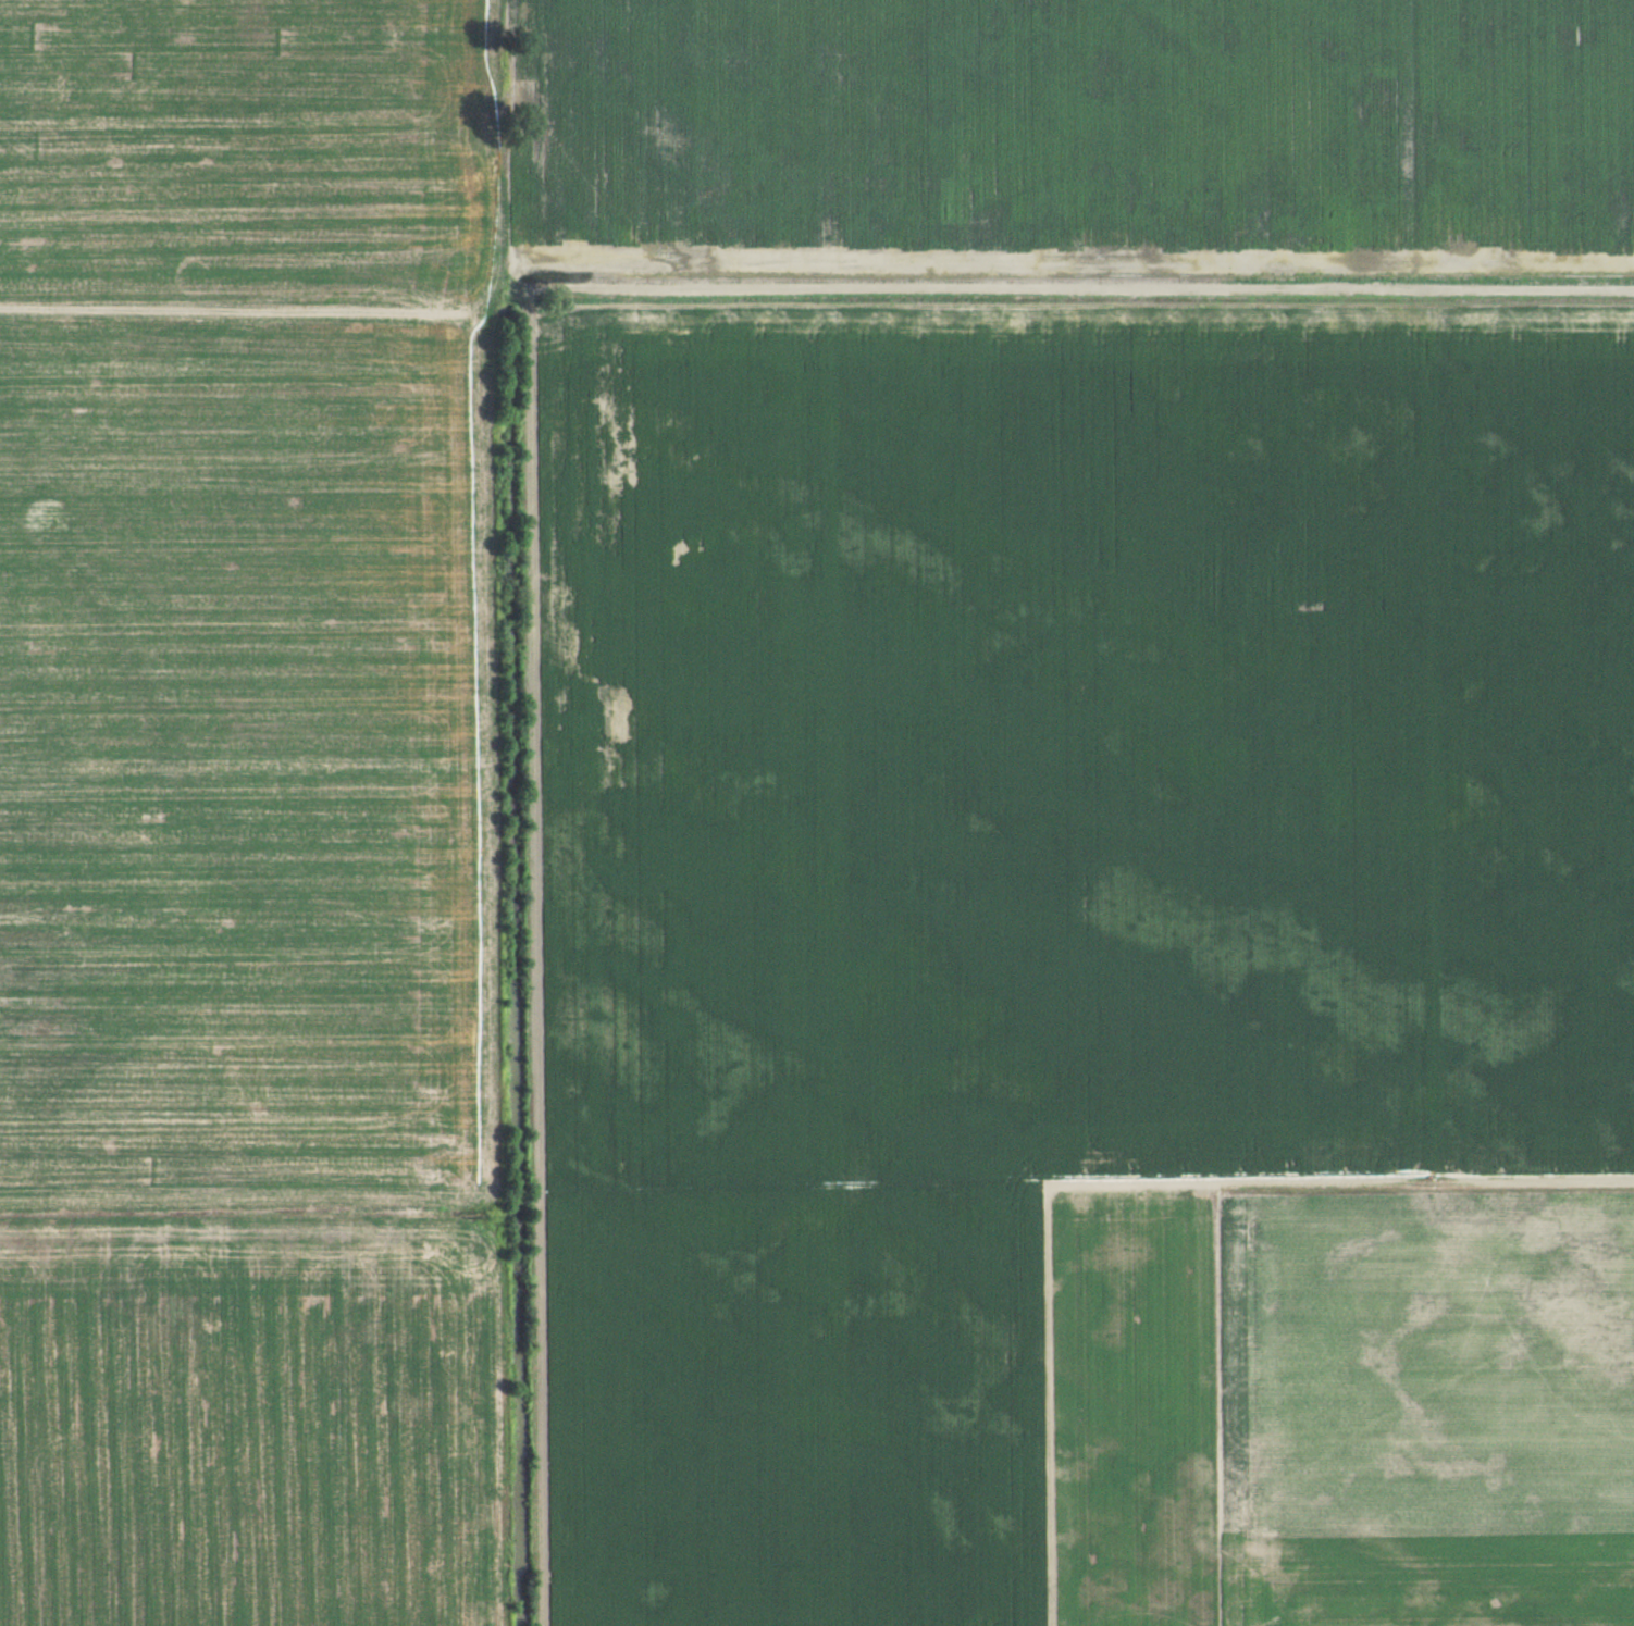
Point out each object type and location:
road: (999, 91)
road: (816, 293)

